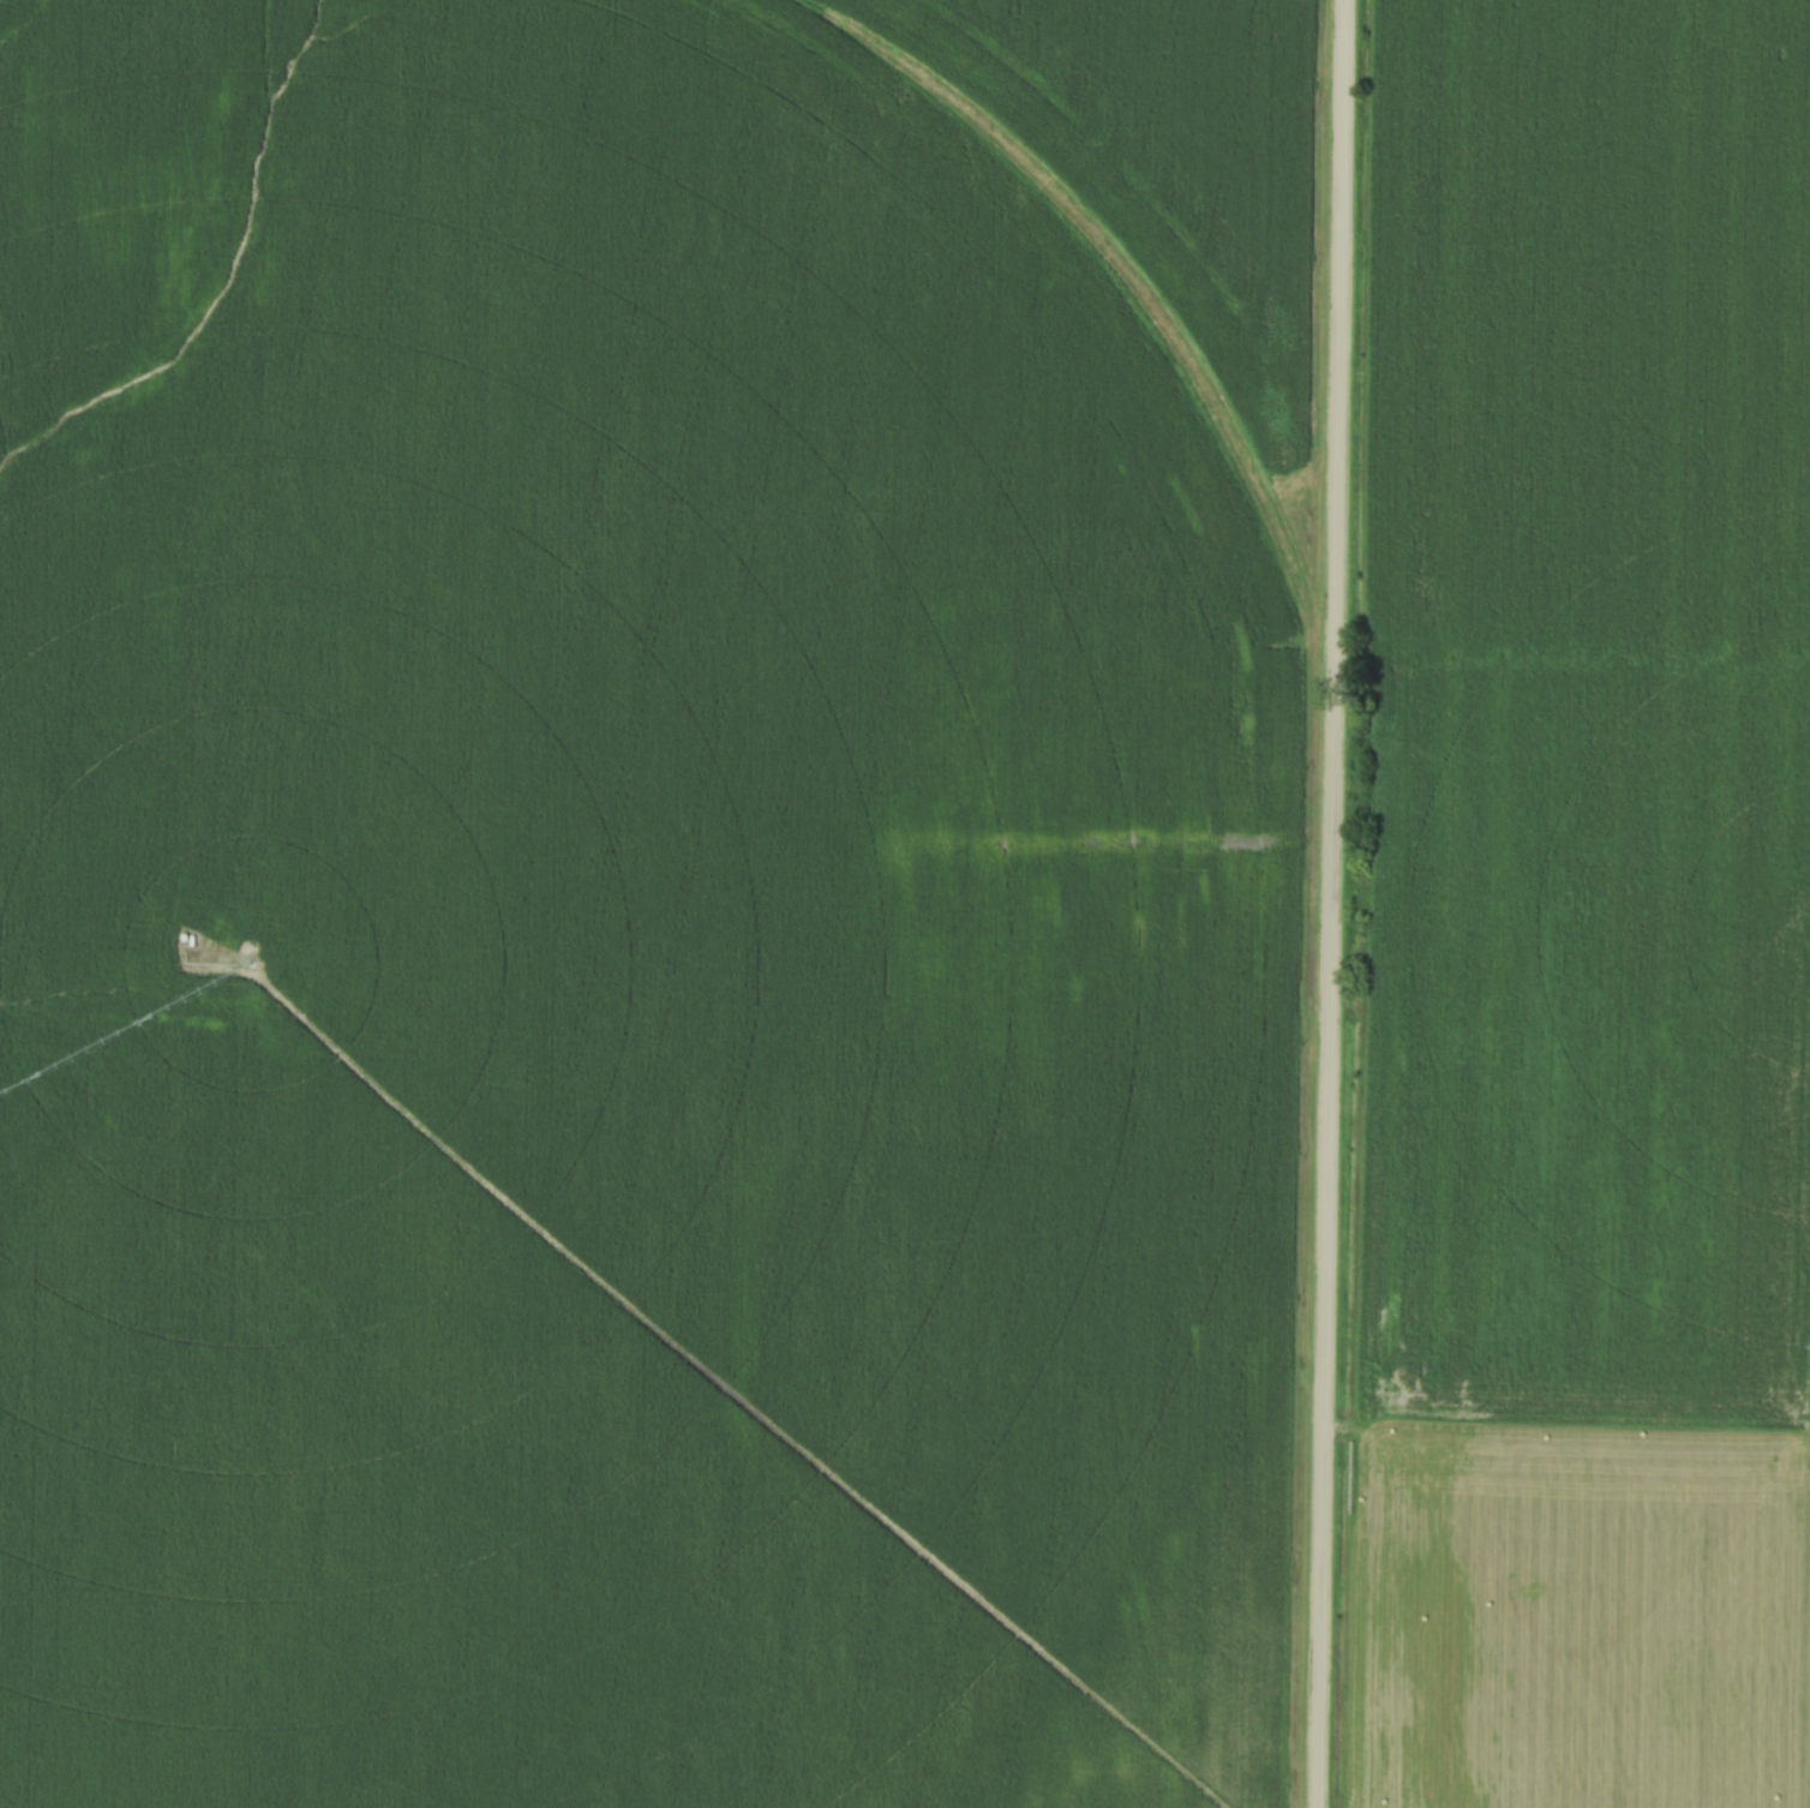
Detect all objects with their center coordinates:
road: (1326, 903)

